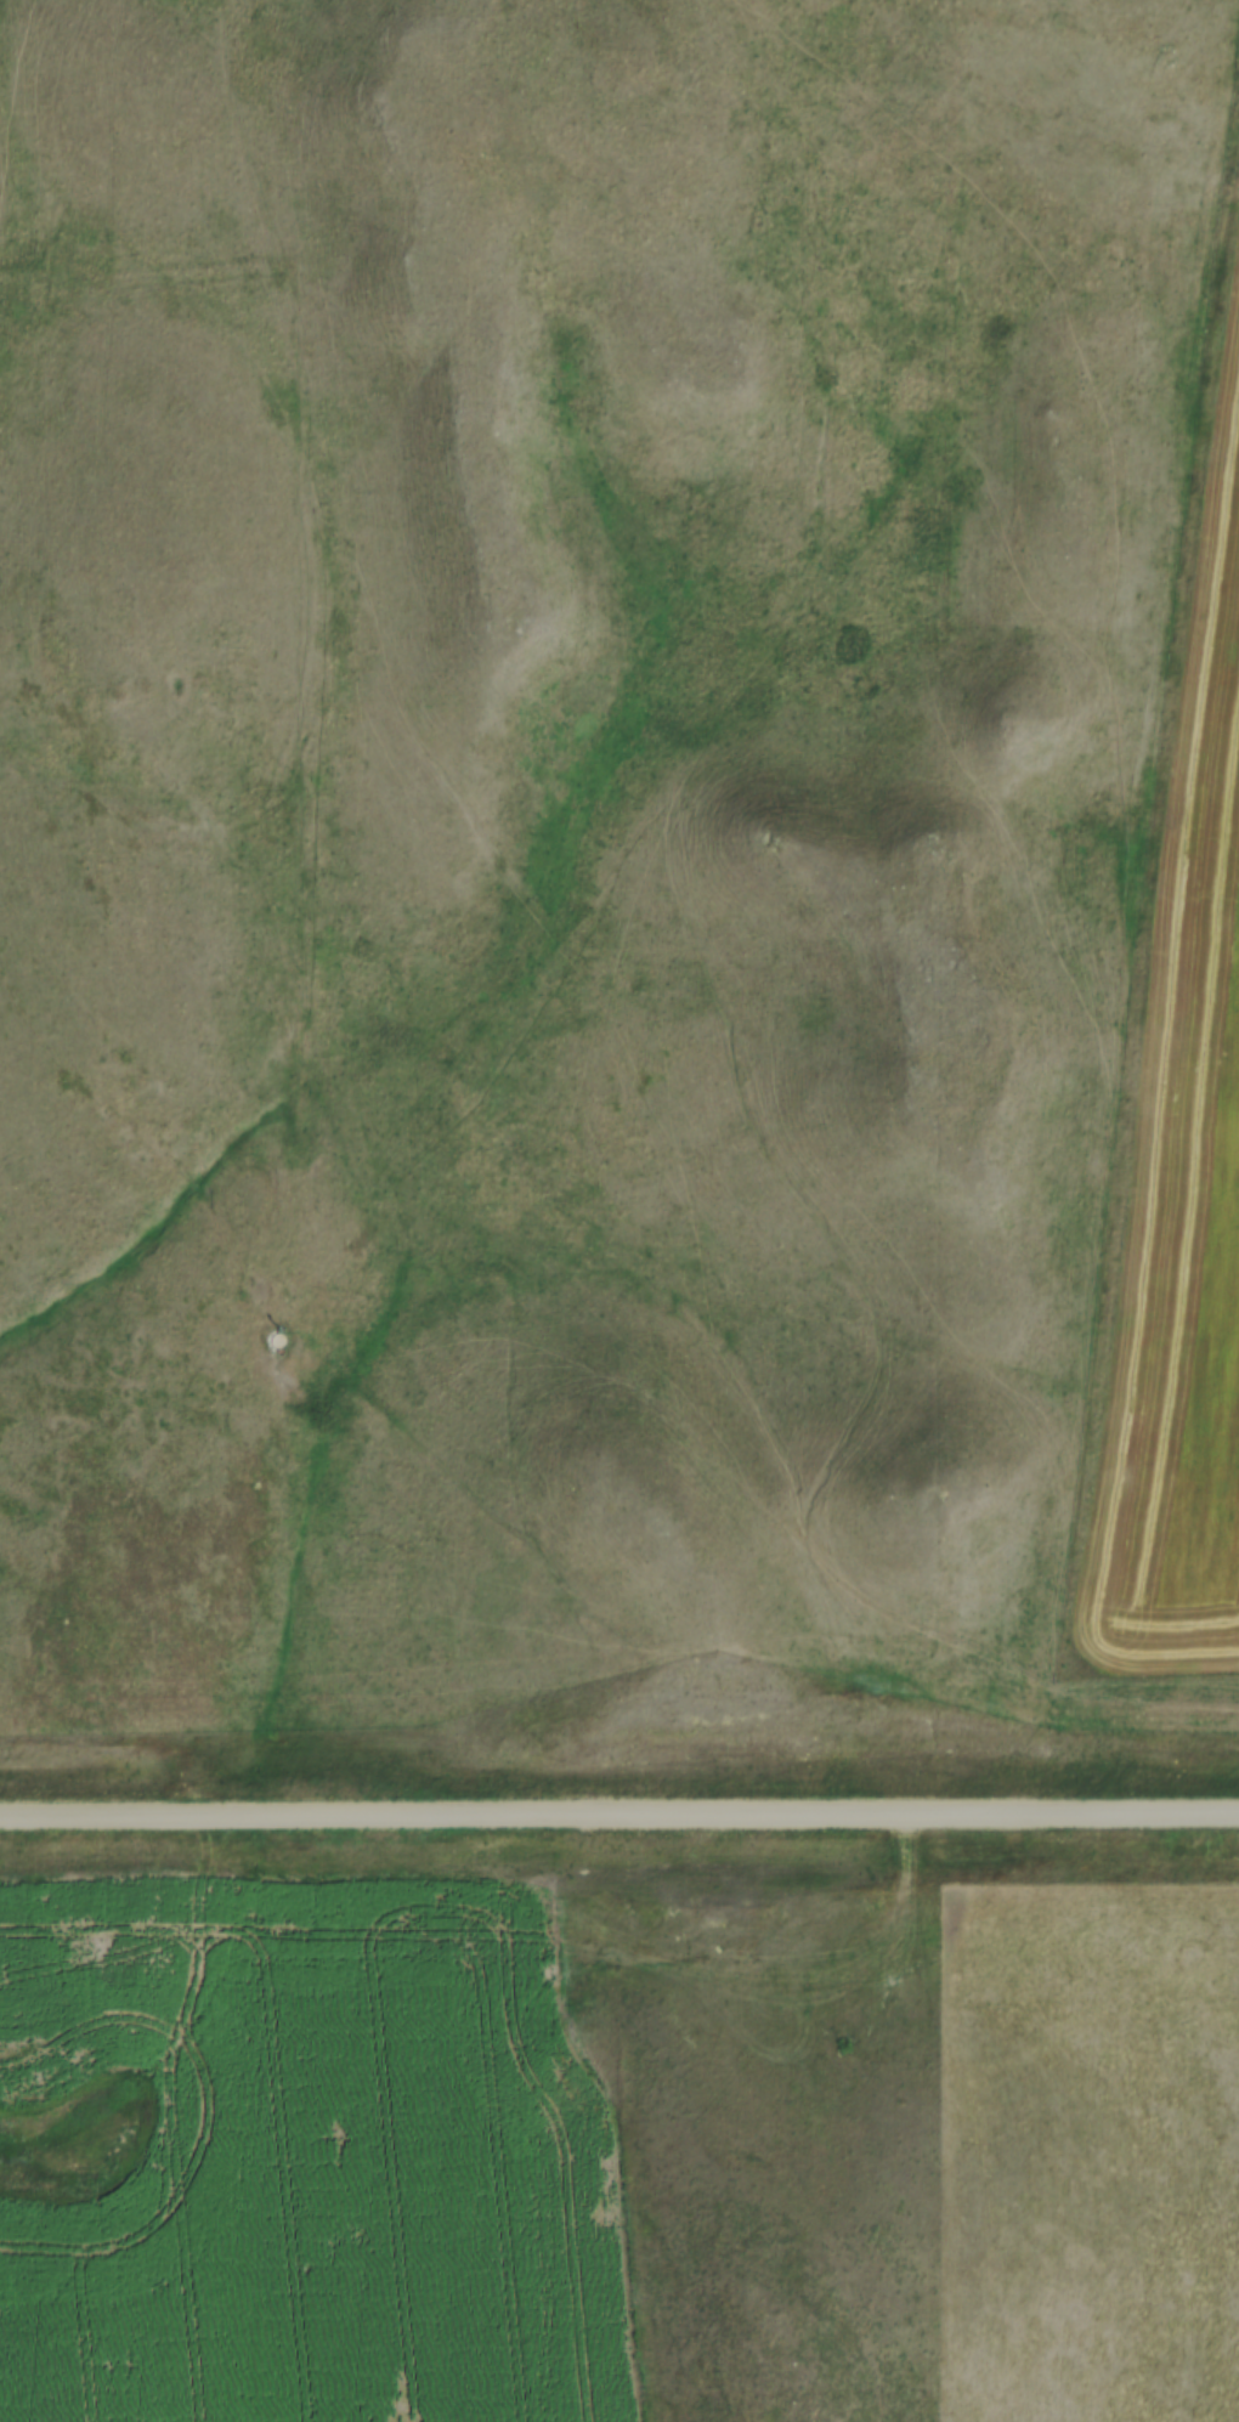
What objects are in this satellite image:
road: (601, 1281)
road: (618, 1809)

